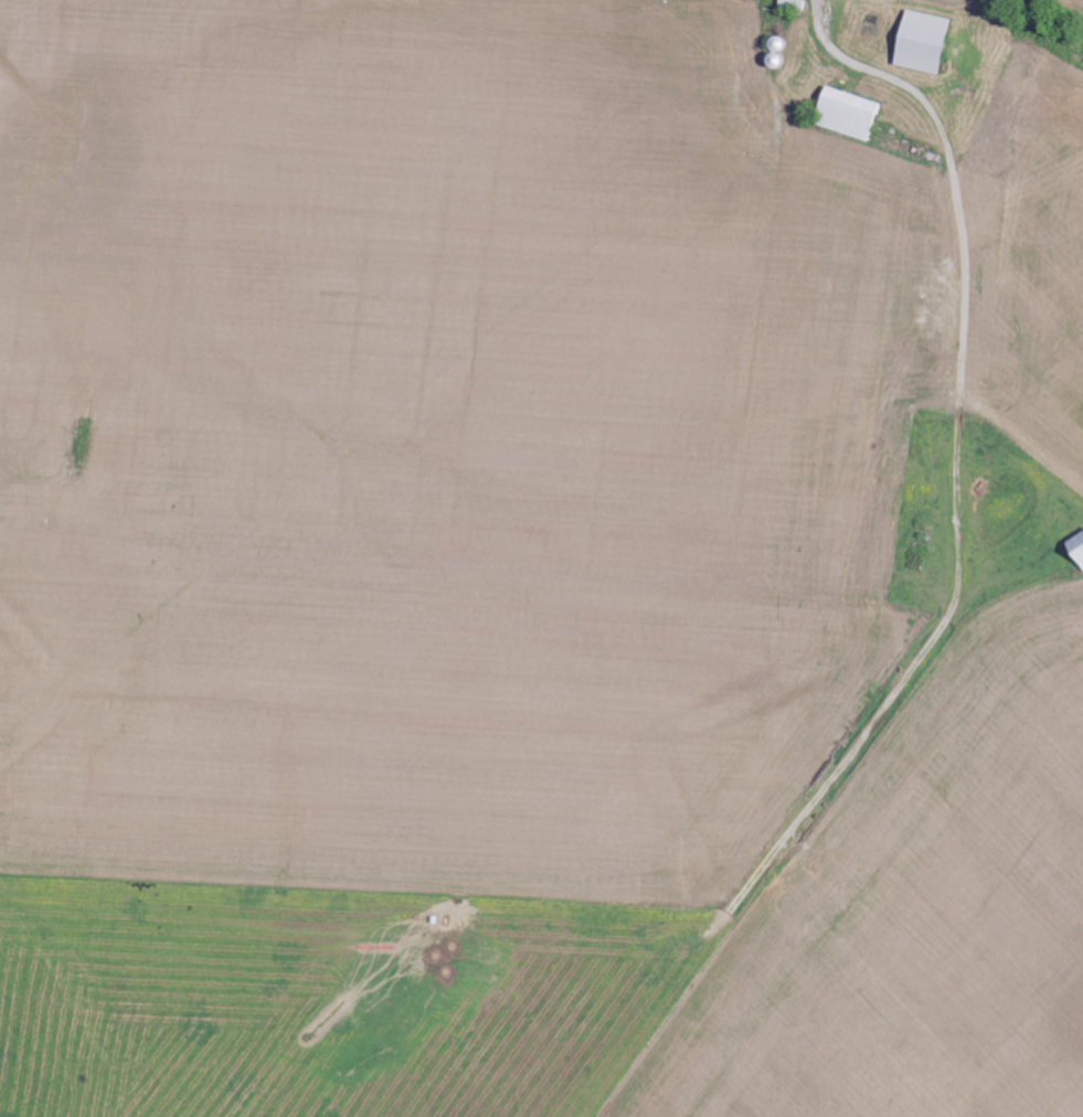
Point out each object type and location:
building: (932, 44)
building: (856, 115)
building: (1079, 546)

